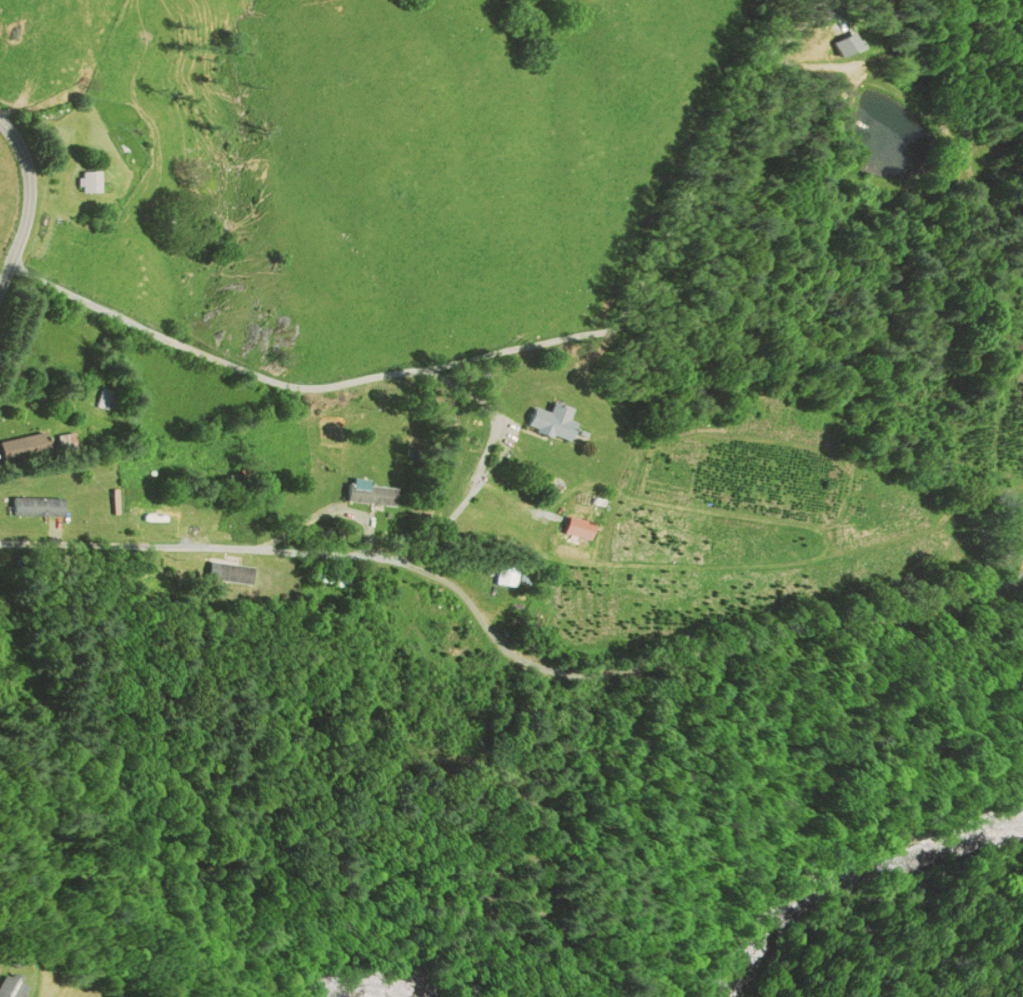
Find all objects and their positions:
building: (87, 182)
road: (29, 199)
road: (535, 352)
building: (550, 421)
building: (22, 444)
building: (369, 494)
building: (34, 506)
building: (154, 508)
building: (576, 527)
building: (226, 571)
building: (504, 575)
building: (327, 579)
road: (501, 651)
river: (844, 864)
river: (387, 975)
building: (9, 984)

